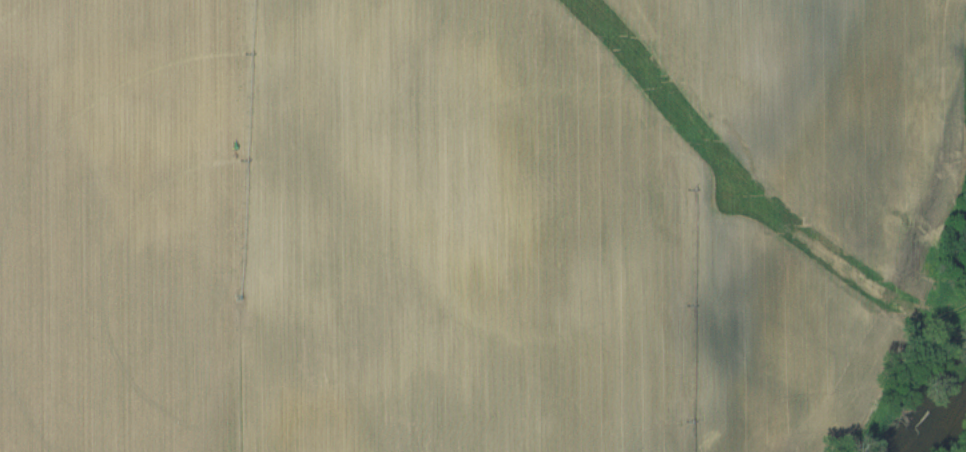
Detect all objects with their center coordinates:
river: (947, 430)

